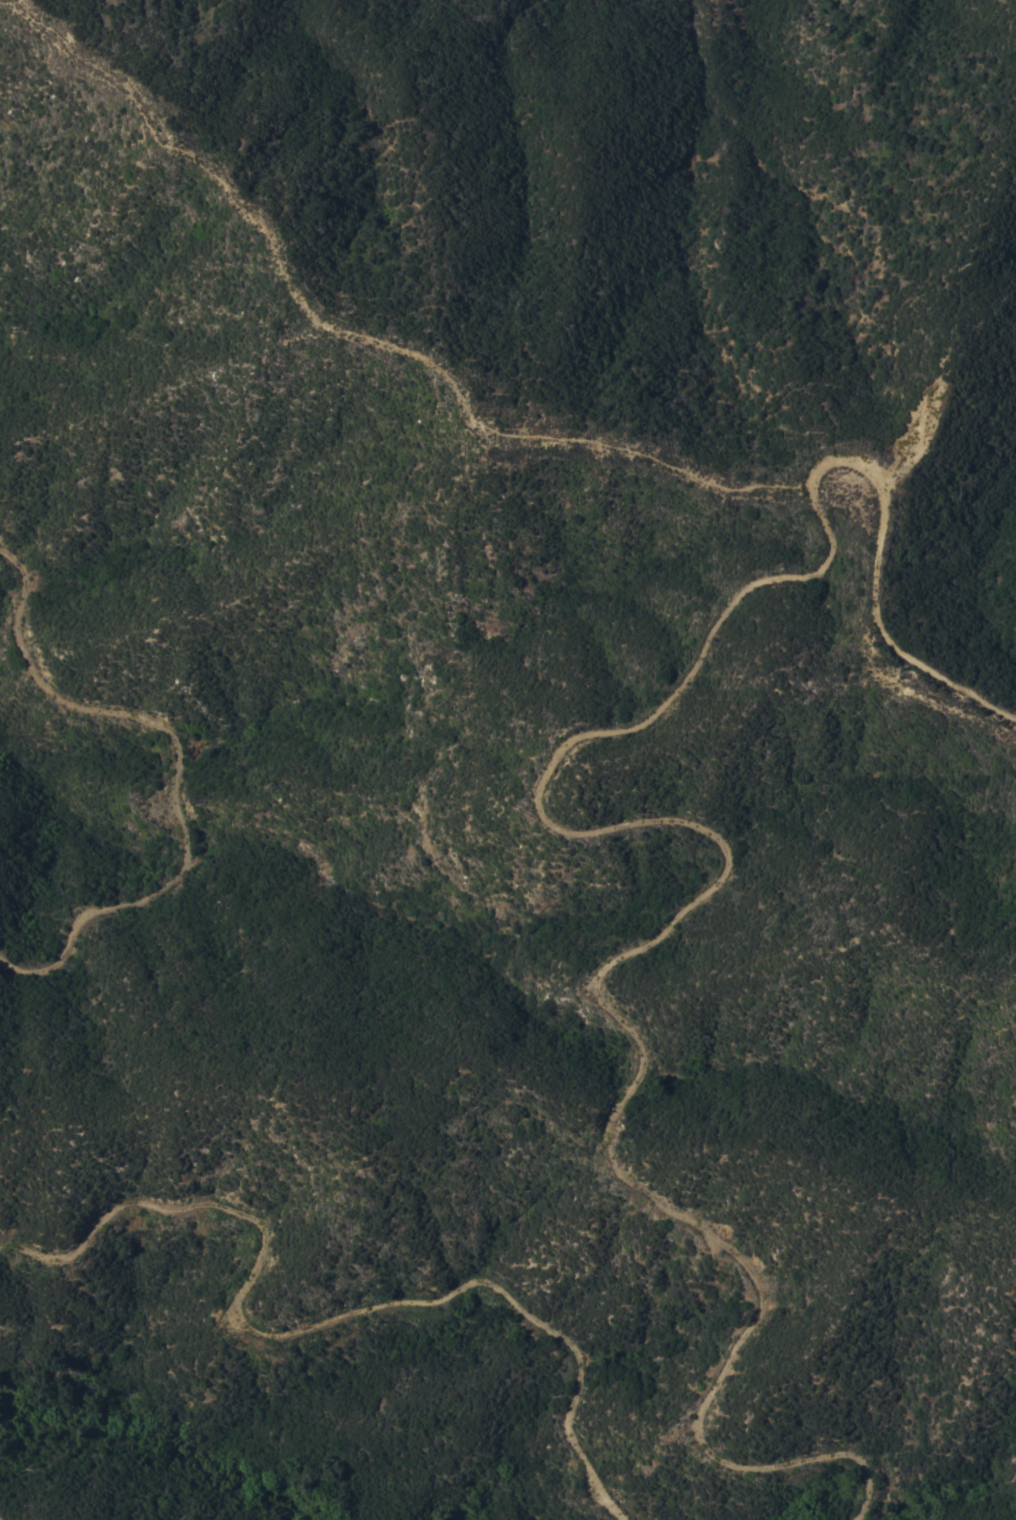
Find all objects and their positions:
road: (355, 334)
road: (916, 696)
road: (176, 767)
road: (684, 822)
road: (322, 1321)

